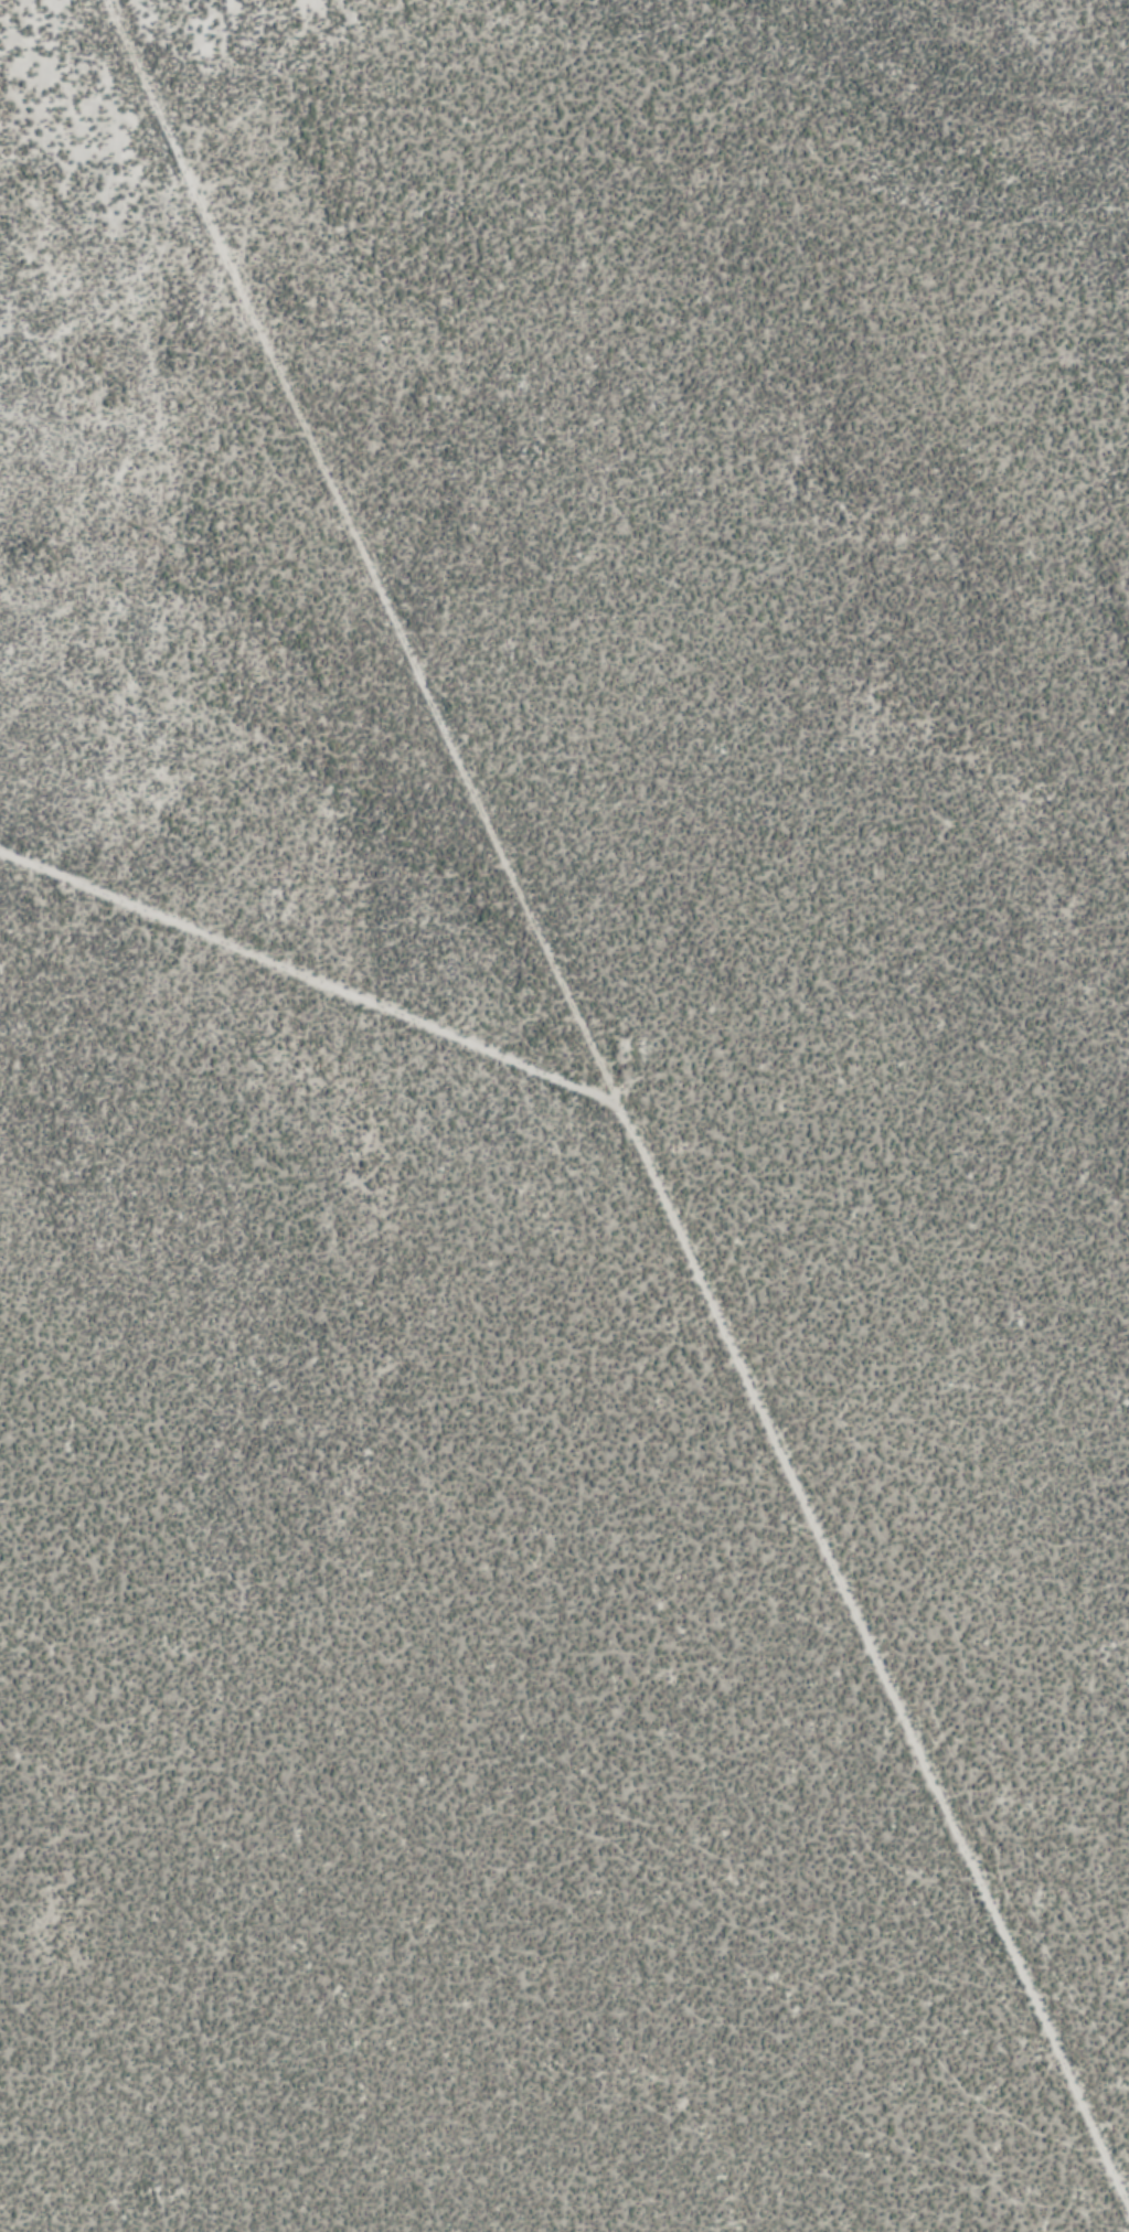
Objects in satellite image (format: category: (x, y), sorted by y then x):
road: (364, 549)
road: (308, 974)
road: (874, 1651)

